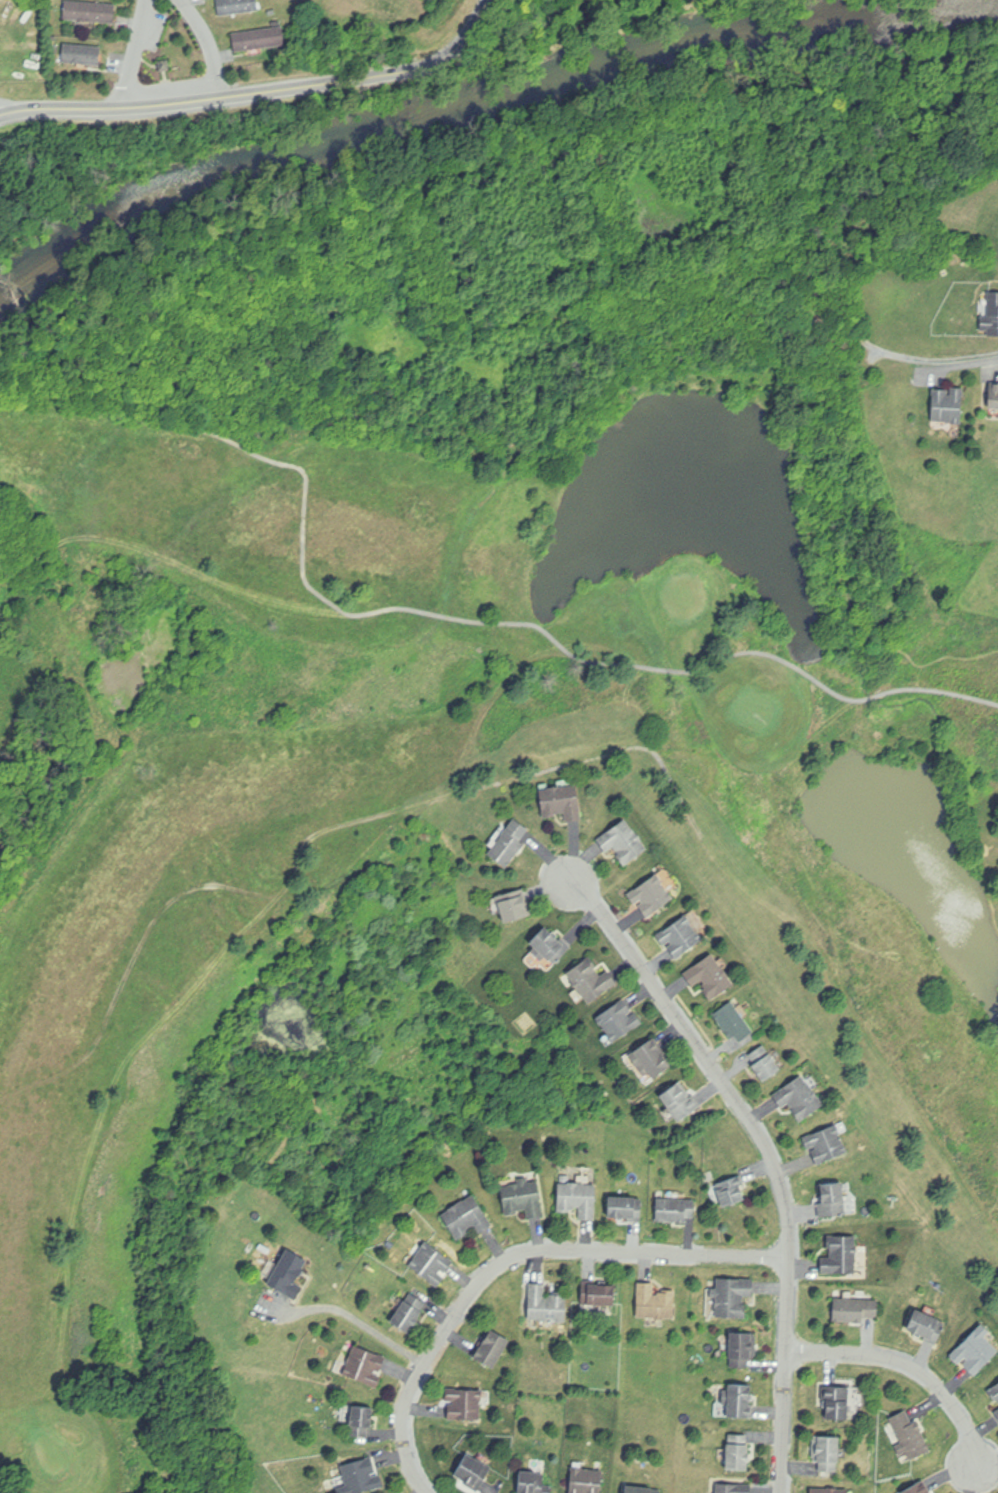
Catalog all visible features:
building: (237, 7)
building: (90, 13)
building: (259, 40)
road: (210, 45)
road: (136, 54)
building: (82, 56)
road: (260, 92)
river: (484, 111)
road: (1, 113)
building: (991, 316)
road: (981, 357)
building: (993, 396)
building: (947, 407)
park: (450, 758)
building: (560, 801)
building: (509, 841)
building: (623, 842)
building: (650, 894)
building: (513, 907)
building: (680, 936)
building: (548, 946)
building: (709, 976)
building: (591, 980)
building: (619, 1021)
building: (733, 1021)
building: (651, 1058)
building: (764, 1064)
building: (799, 1096)
building: (679, 1102)
building: (826, 1143)
road: (771, 1158)
building: (730, 1190)
building: (523, 1196)
building: (578, 1197)
building: (833, 1200)
building: (625, 1207)
building: (675, 1209)
building: (466, 1215)
building: (841, 1255)
road: (513, 1259)
building: (431, 1262)
building: (287, 1272)
building: (599, 1293)
building: (731, 1295)
building: (655, 1301)
building: (545, 1302)
building: (856, 1308)
building: (408, 1312)
road: (359, 1321)
building: (926, 1325)
building: (491, 1348)
building: (742, 1348)
building: (976, 1348)
building: (363, 1365)
road: (910, 1368)
building: (994, 1391)
building: (739, 1399)
building: (837, 1400)
building: (465, 1403)
building: (997, 1412)
building: (360, 1419)
building: (909, 1434)
building: (737, 1451)
building: (826, 1451)
building: (473, 1470)
building: (361, 1474)
building: (586, 1480)
building: (532, 1482)
building: (732, 1488)
building: (915, 1488)
building: (640, 1489)
building: (830, 1489)

